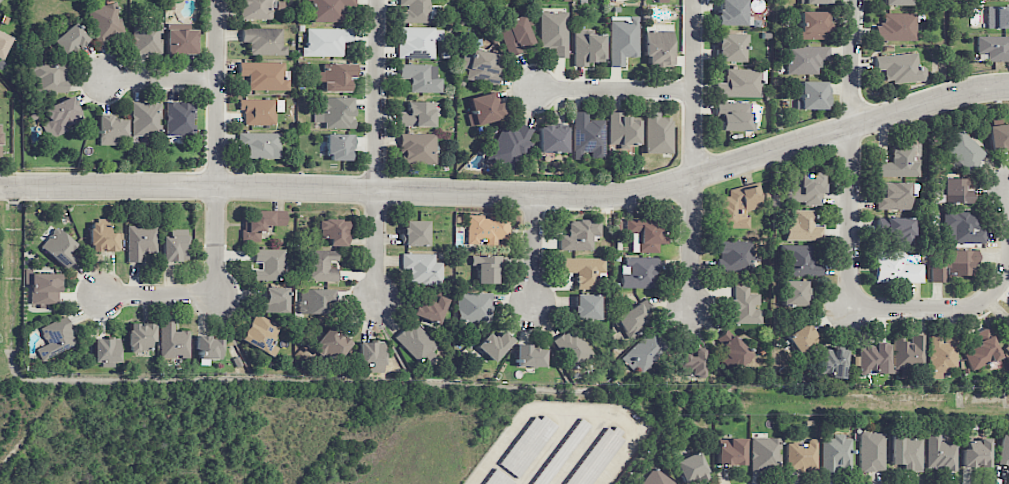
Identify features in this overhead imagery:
building: (817, 2)
building: (895, 2)
building: (255, 9)
building: (329, 10)
building: (414, 11)
building: (731, 12)
building: (997, 17)
building: (105, 22)
building: (812, 25)
building: (896, 27)
building: (553, 32)
building: (514, 35)
building: (145, 37)
building: (70, 39)
building: (180, 39)
building: (623, 39)
building: (263, 41)
building: (325, 41)
building: (417, 42)
building: (3, 44)
building: (658, 45)
building: (730, 47)
building: (587, 48)
building: (994, 48)
building: (805, 59)
building: (480, 66)
building: (899, 67)
building: (264, 76)
building: (48, 77)
building: (336, 77)
building: (421, 77)
road: (164, 81)
building: (739, 83)
road: (614, 90)
road: (218, 93)
building: (812, 95)
building: (484, 109)
building: (258, 111)
building: (335, 112)
building: (417, 115)
building: (60, 116)
building: (733, 116)
building: (145, 119)
building: (179, 119)
building: (111, 129)
building: (621, 131)
building: (658, 133)
building: (587, 136)
building: (998, 136)
building: (0, 138)
building: (552, 139)
building: (260, 144)
building: (339, 146)
building: (510, 146)
building: (417, 148)
building: (963, 149)
road: (377, 152)
road: (694, 152)
building: (901, 161)
building: (806, 189)
building: (949, 190)
road: (512, 195)
building: (893, 196)
building: (737, 207)
building: (259, 223)
building: (803, 226)
building: (961, 228)
building: (896, 229)
building: (487, 230)
building: (332, 231)
building: (414, 233)
building: (580, 235)
building: (101, 236)
building: (643, 236)
building: (140, 241)
road: (853, 243)
building: (174, 246)
building: (58, 247)
road: (535, 250)
building: (735, 255)
building: (801, 261)
building: (960, 261)
building: (269, 264)
building: (321, 265)
building: (486, 268)
building: (422, 269)
building: (895, 269)
building: (584, 271)
building: (639, 272)
building: (938, 274)
building: (42, 286)
building: (794, 293)
road: (213, 296)
building: (276, 300)
building: (316, 300)
building: (746, 306)
building: (473, 307)
building: (586, 307)
building: (430, 310)
building: (634, 318)
building: (261, 334)
building: (140, 336)
building: (55, 338)
building: (802, 339)
building: (174, 341)
building: (416, 341)
building: (331, 343)
building: (494, 345)
building: (1007, 346)
building: (573, 347)
building: (208, 349)
building: (981, 350)
building: (106, 351)
building: (732, 352)
building: (643, 353)
building: (909, 354)
building: (942, 354)
building: (370, 355)
building: (529, 356)
building: (873, 359)
building: (830, 362)
building: (693, 363)
road: (568, 410)
building: (808, 423)
building: (527, 445)
building: (1002, 450)
building: (559, 451)
building: (730, 451)
building: (871, 451)
building: (906, 452)
building: (940, 452)
building: (835, 453)
building: (975, 453)
building: (764, 454)
building: (652, 455)
building: (800, 455)
building: (597, 456)
building: (691, 468)
building: (497, 478)
building: (656, 478)

